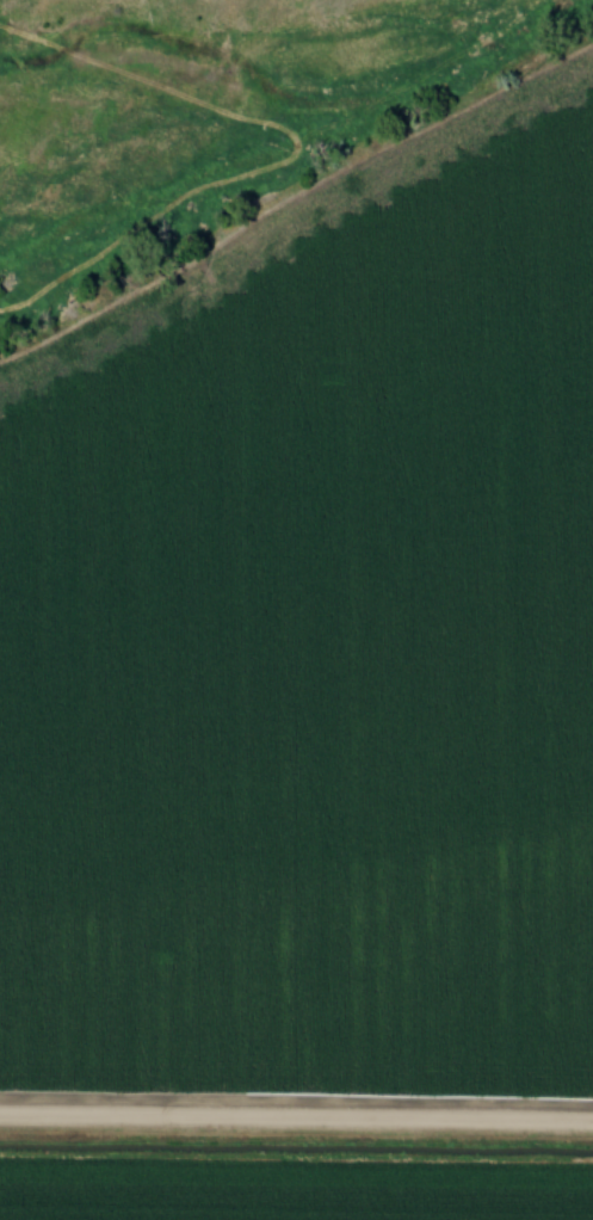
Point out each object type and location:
road: (296, 1116)

